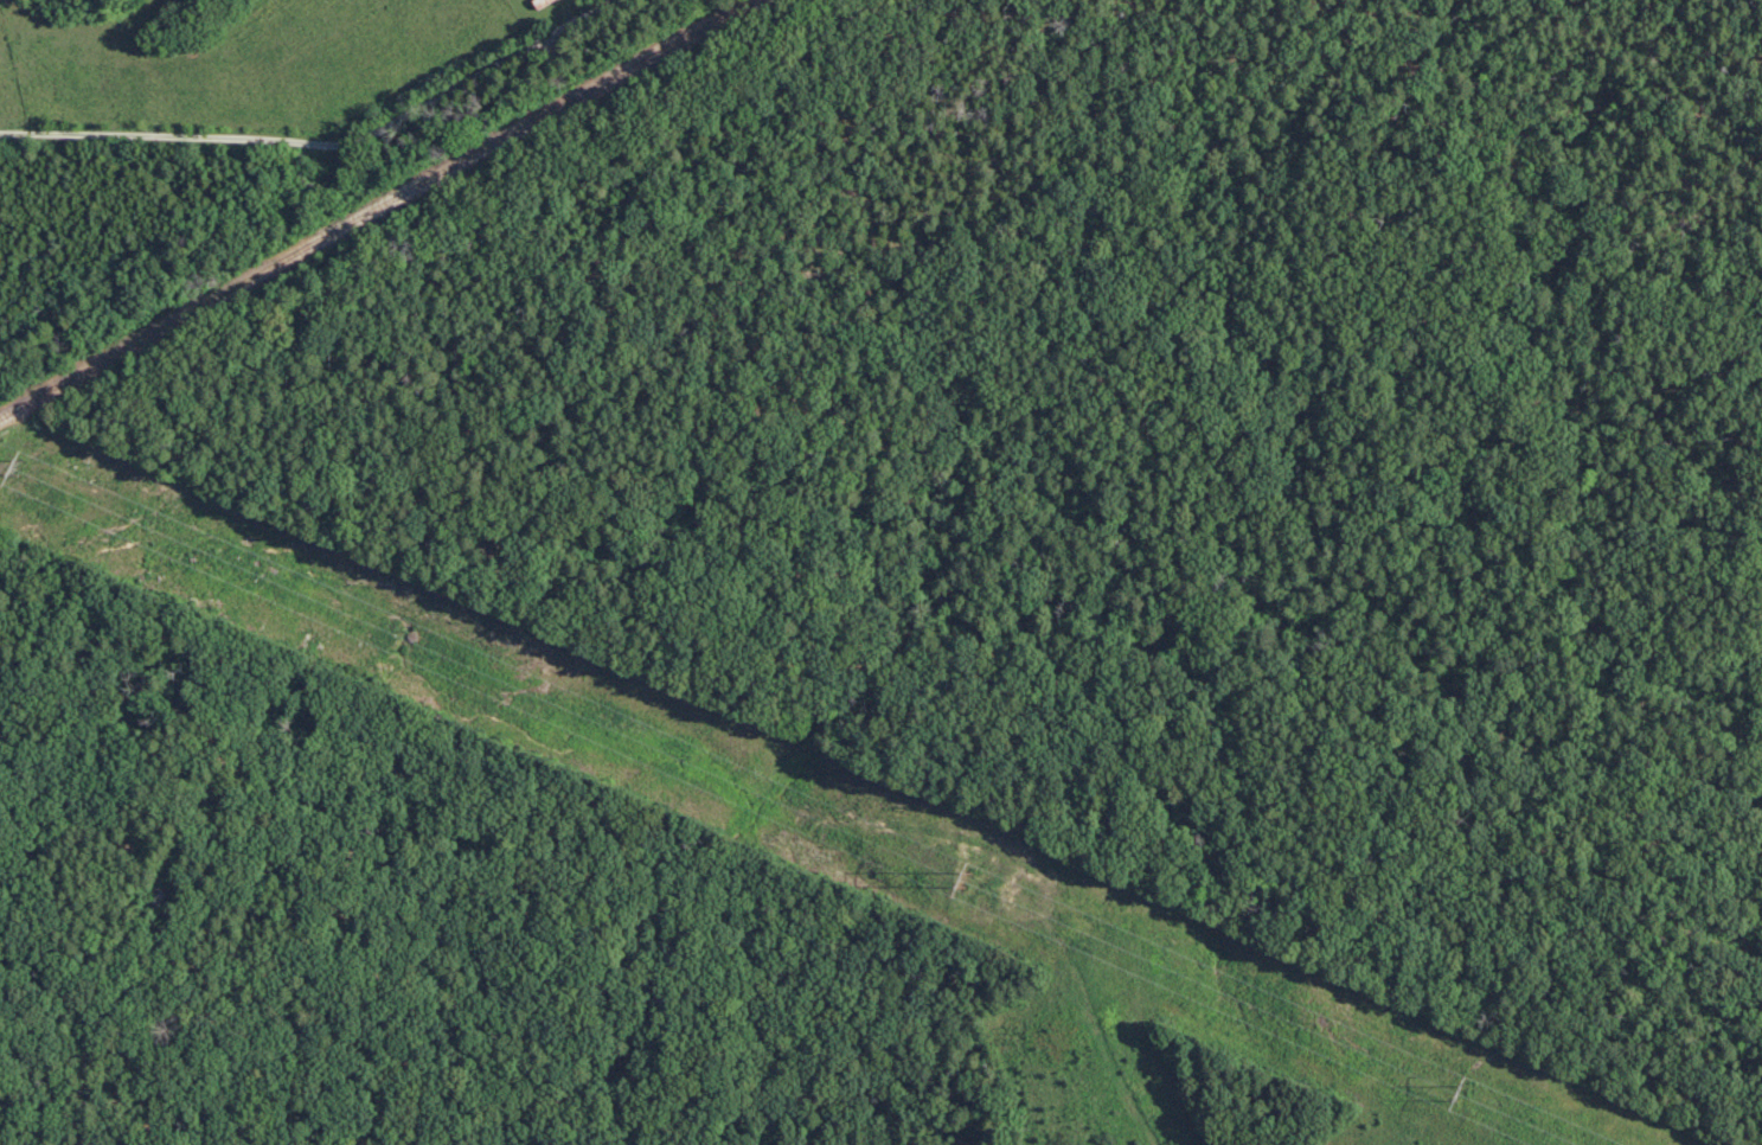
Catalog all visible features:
railway: (360, 199)
power tower: (14, 465)
power tower: (968, 878)
power tower: (1454, 1087)

